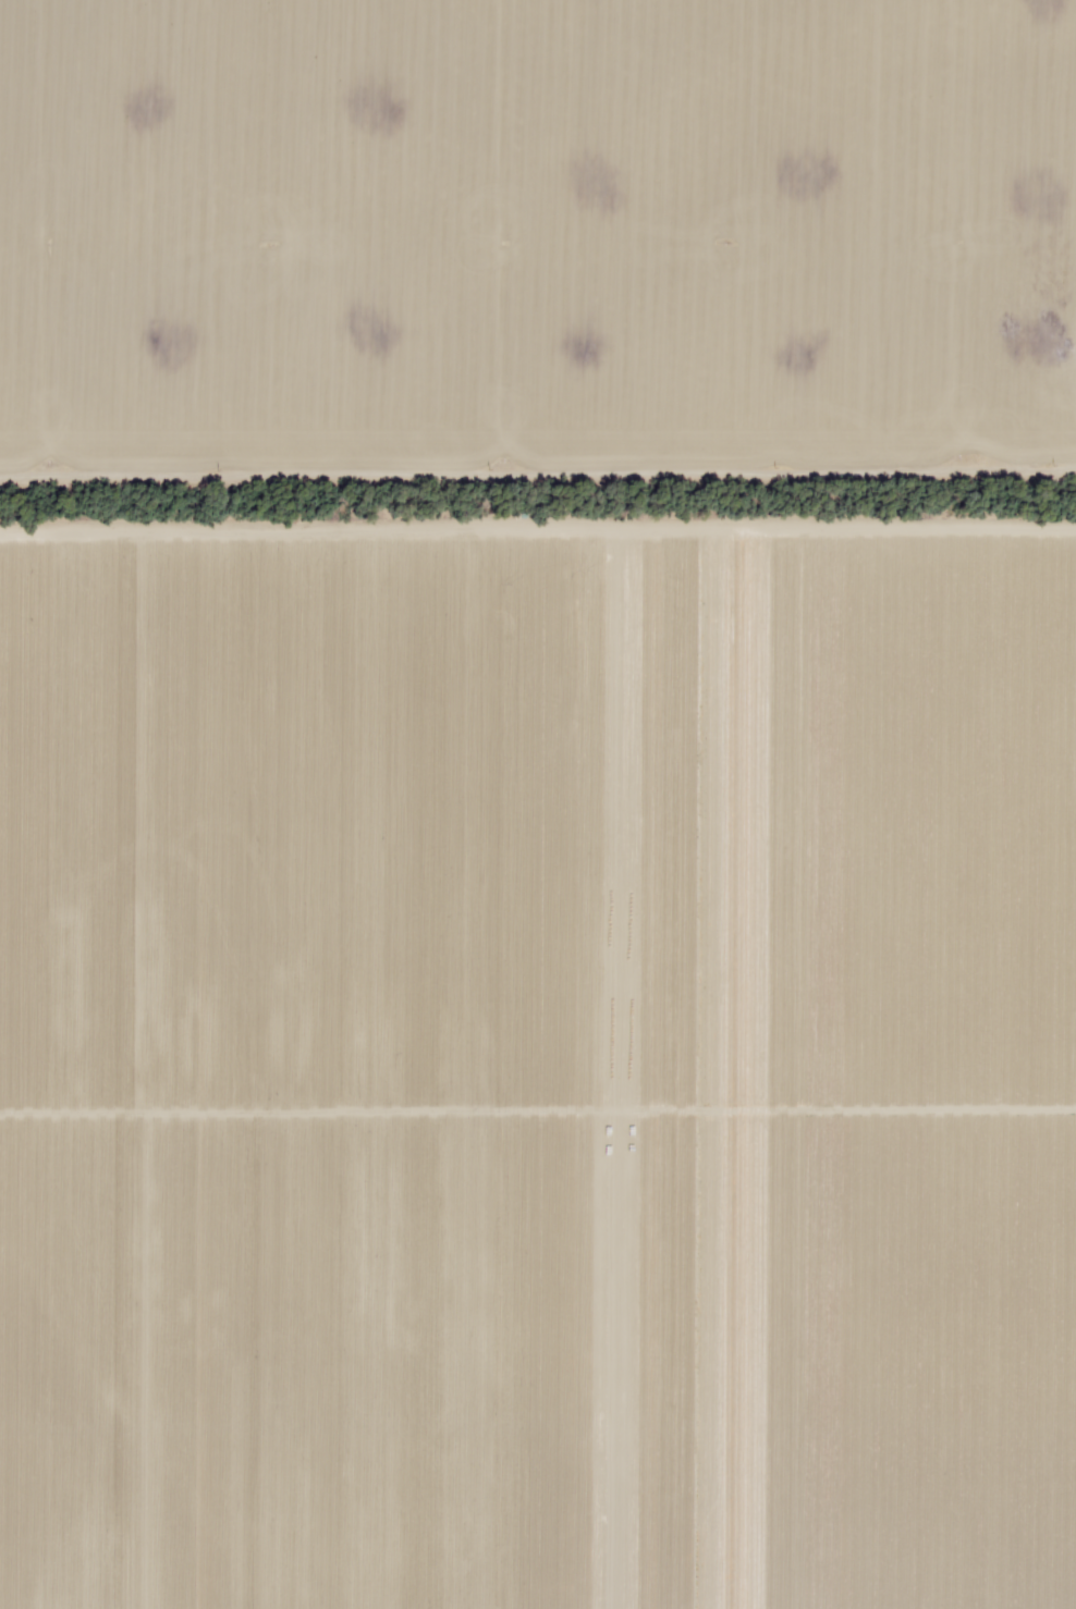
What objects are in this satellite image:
road: (538, 492)
crop: (538, 1051)

